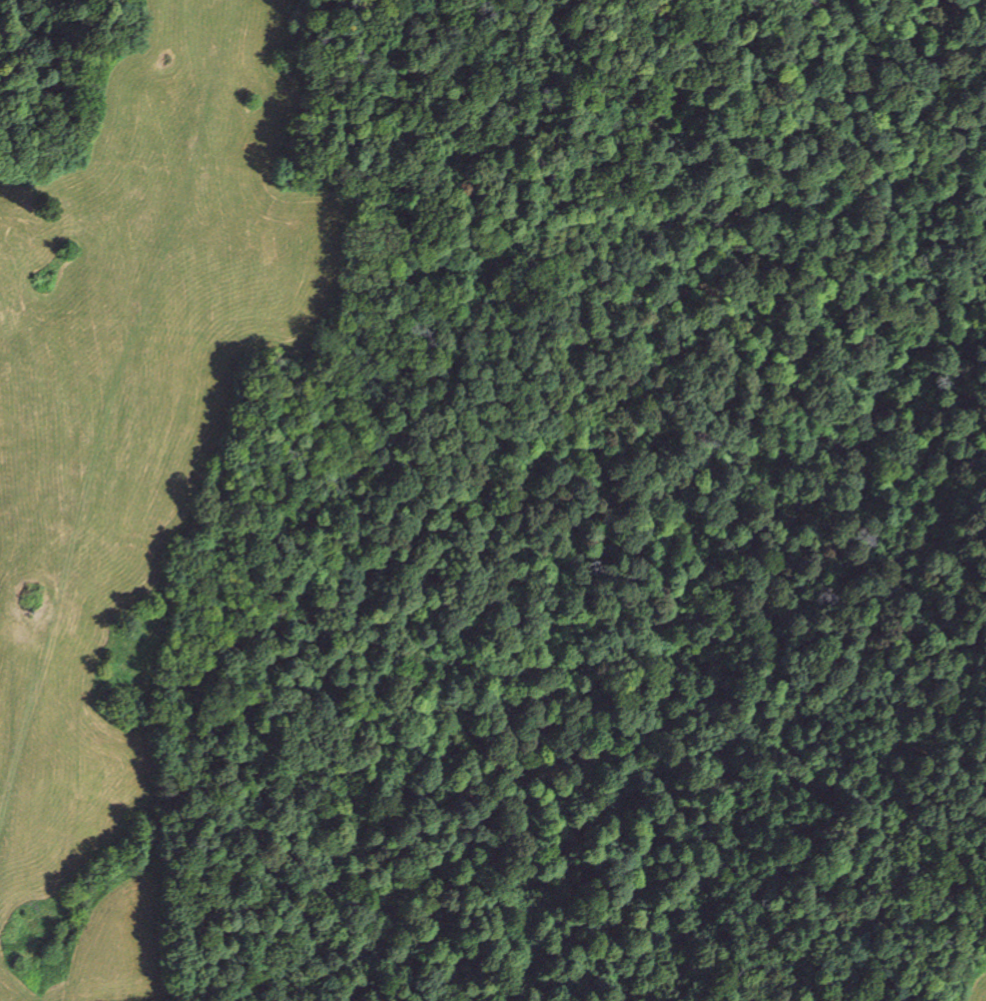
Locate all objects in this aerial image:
park: (17, 70)

